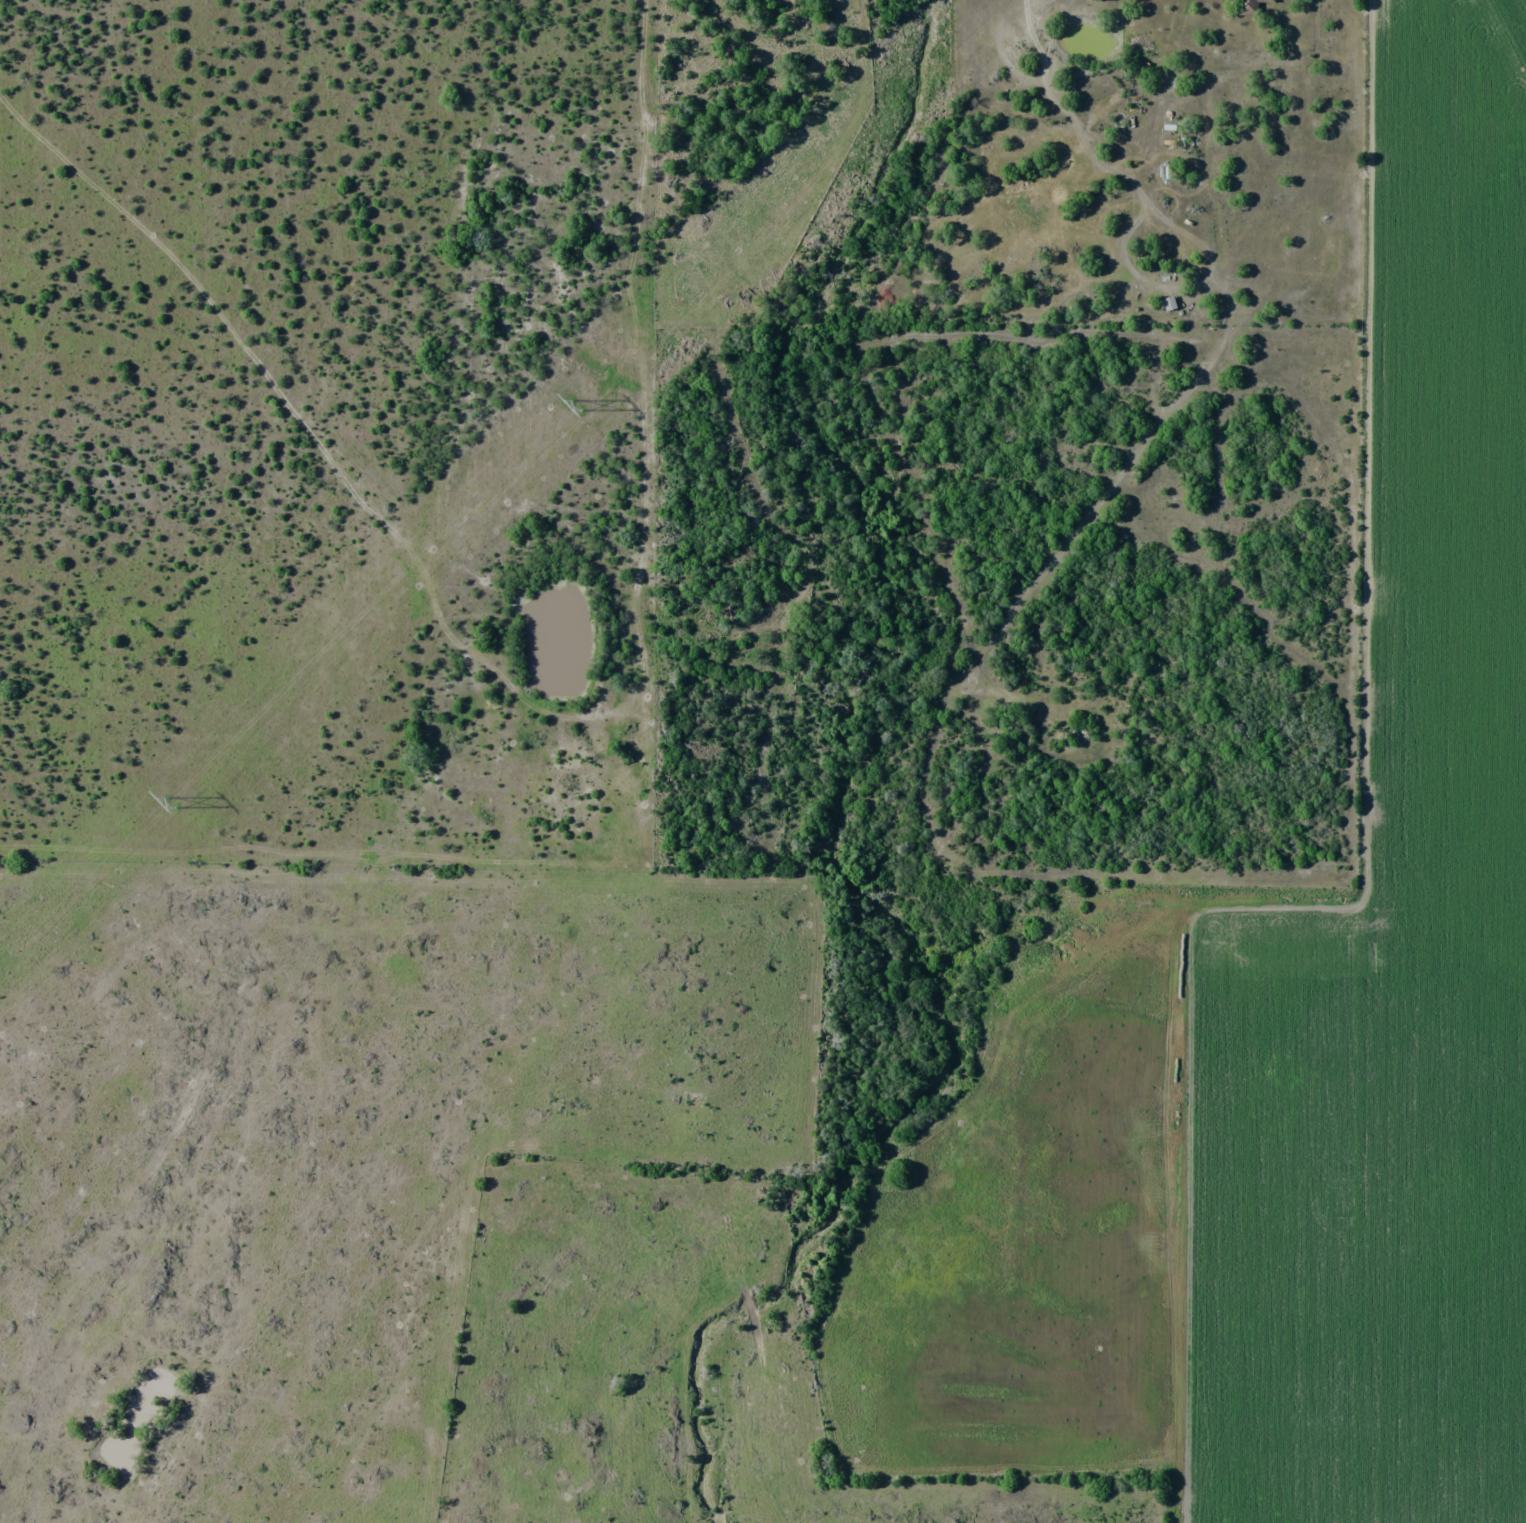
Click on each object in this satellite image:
building: (1249, 6)
power tower: (575, 403)
power tower: (166, 799)

